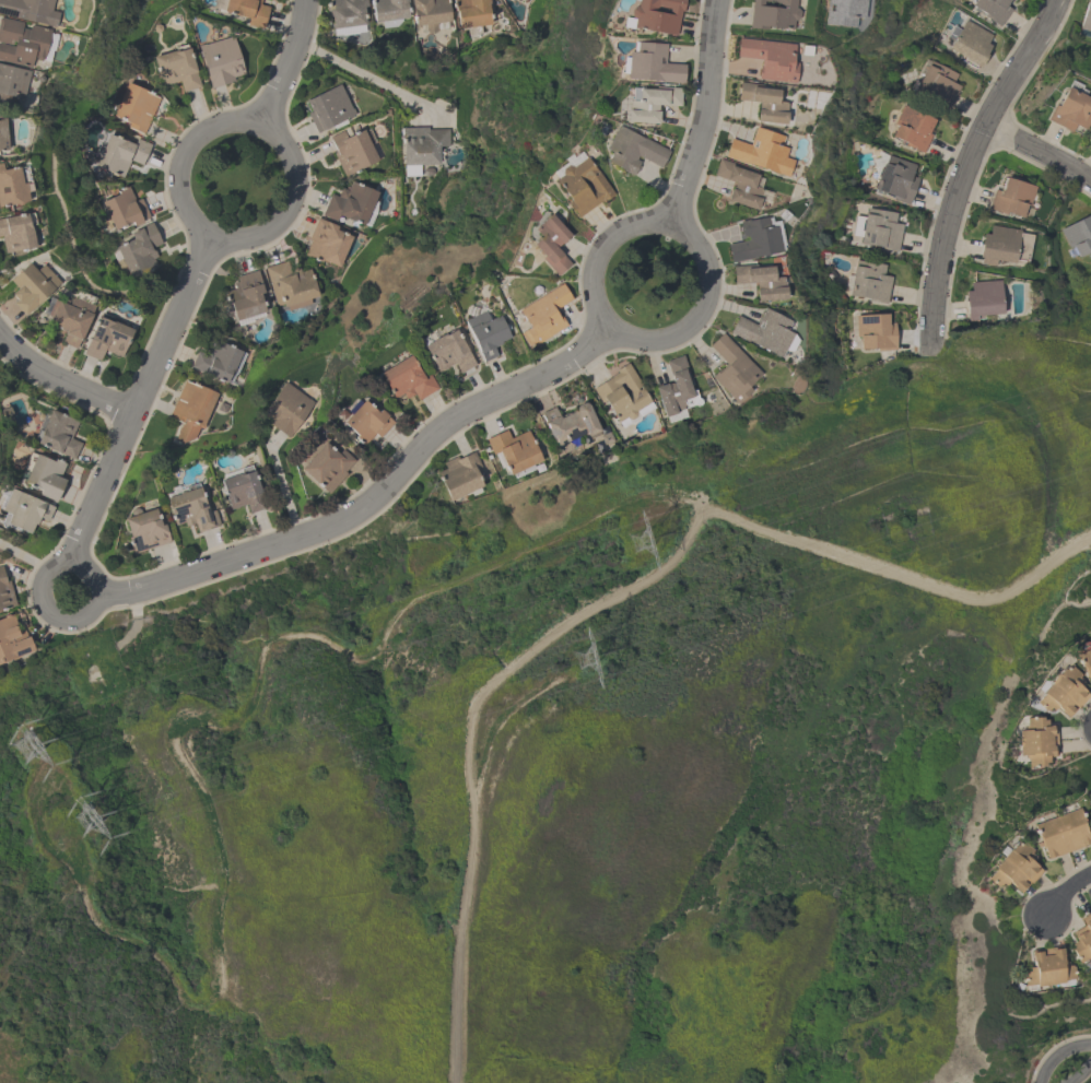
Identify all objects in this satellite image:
building: (524, 0)
building: (992, 9)
building: (388, 10)
building: (30, 11)
building: (244, 11)
building: (345, 12)
building: (430, 12)
building: (471, 12)
building: (842, 13)
building: (773, 14)
building: (655, 16)
building: (1086, 16)
building: (21, 44)
building: (970, 44)
building: (770, 59)
building: (220, 62)
road: (286, 63)
building: (652, 66)
building: (176, 69)
road: (367, 78)
building: (936, 85)
building: (12, 86)
building: (763, 104)
building: (649, 106)
building: (136, 107)
building: (328, 109)
building: (1070, 111)
road: (707, 116)
building: (912, 128)
building: (2, 137)
building: (421, 148)
building: (352, 151)
building: (633, 151)
road: (1039, 152)
building: (761, 153)
building: (120, 154)
road: (964, 167)
building: (895, 179)
building: (739, 185)
building: (583, 188)
building: (12, 189)
building: (1012, 200)
building: (349, 203)
building: (125, 209)
building: (880, 229)
building: (16, 234)
road: (216, 234)
building: (1078, 237)
building: (327, 242)
building: (754, 242)
building: (551, 246)
building: (1004, 247)
building: (139, 251)
building: (869, 282)
building: (760, 283)
building: (290, 285)
building: (32, 289)
building: (246, 295)
building: (982, 299)
building: (543, 314)
building: (69, 319)
building: (875, 331)
building: (486, 332)
road: (630, 333)
building: (765, 333)
building: (106, 339)
building: (448, 350)
building: (219, 361)
building: (732, 368)
building: (407, 378)
road: (66, 384)
building: (677, 388)
building: (622, 392)
road: (148, 401)
building: (190, 409)
building: (286, 409)
building: (367, 421)
building: (570, 423)
building: (58, 433)
building: (514, 450)
building: (327, 466)
building: (44, 473)
building: (459, 475)
road: (279, 484)
building: (243, 490)
road: (375, 497)
building: (190, 508)
building: (23, 510)
building: (144, 529)
power tower: (635, 540)
road: (24, 558)
building: (5, 592)
road: (61, 622)
building: (12, 638)
power tower: (578, 656)
building: (1084, 661)
building: (1063, 691)
power tower: (22, 740)
building: (1036, 740)
building: (1089, 807)
power tower: (85, 819)
building: (1061, 832)
building: (1014, 867)
road: (1067, 890)
building: (1082, 939)
building: (1047, 967)
road: (1071, 1067)

